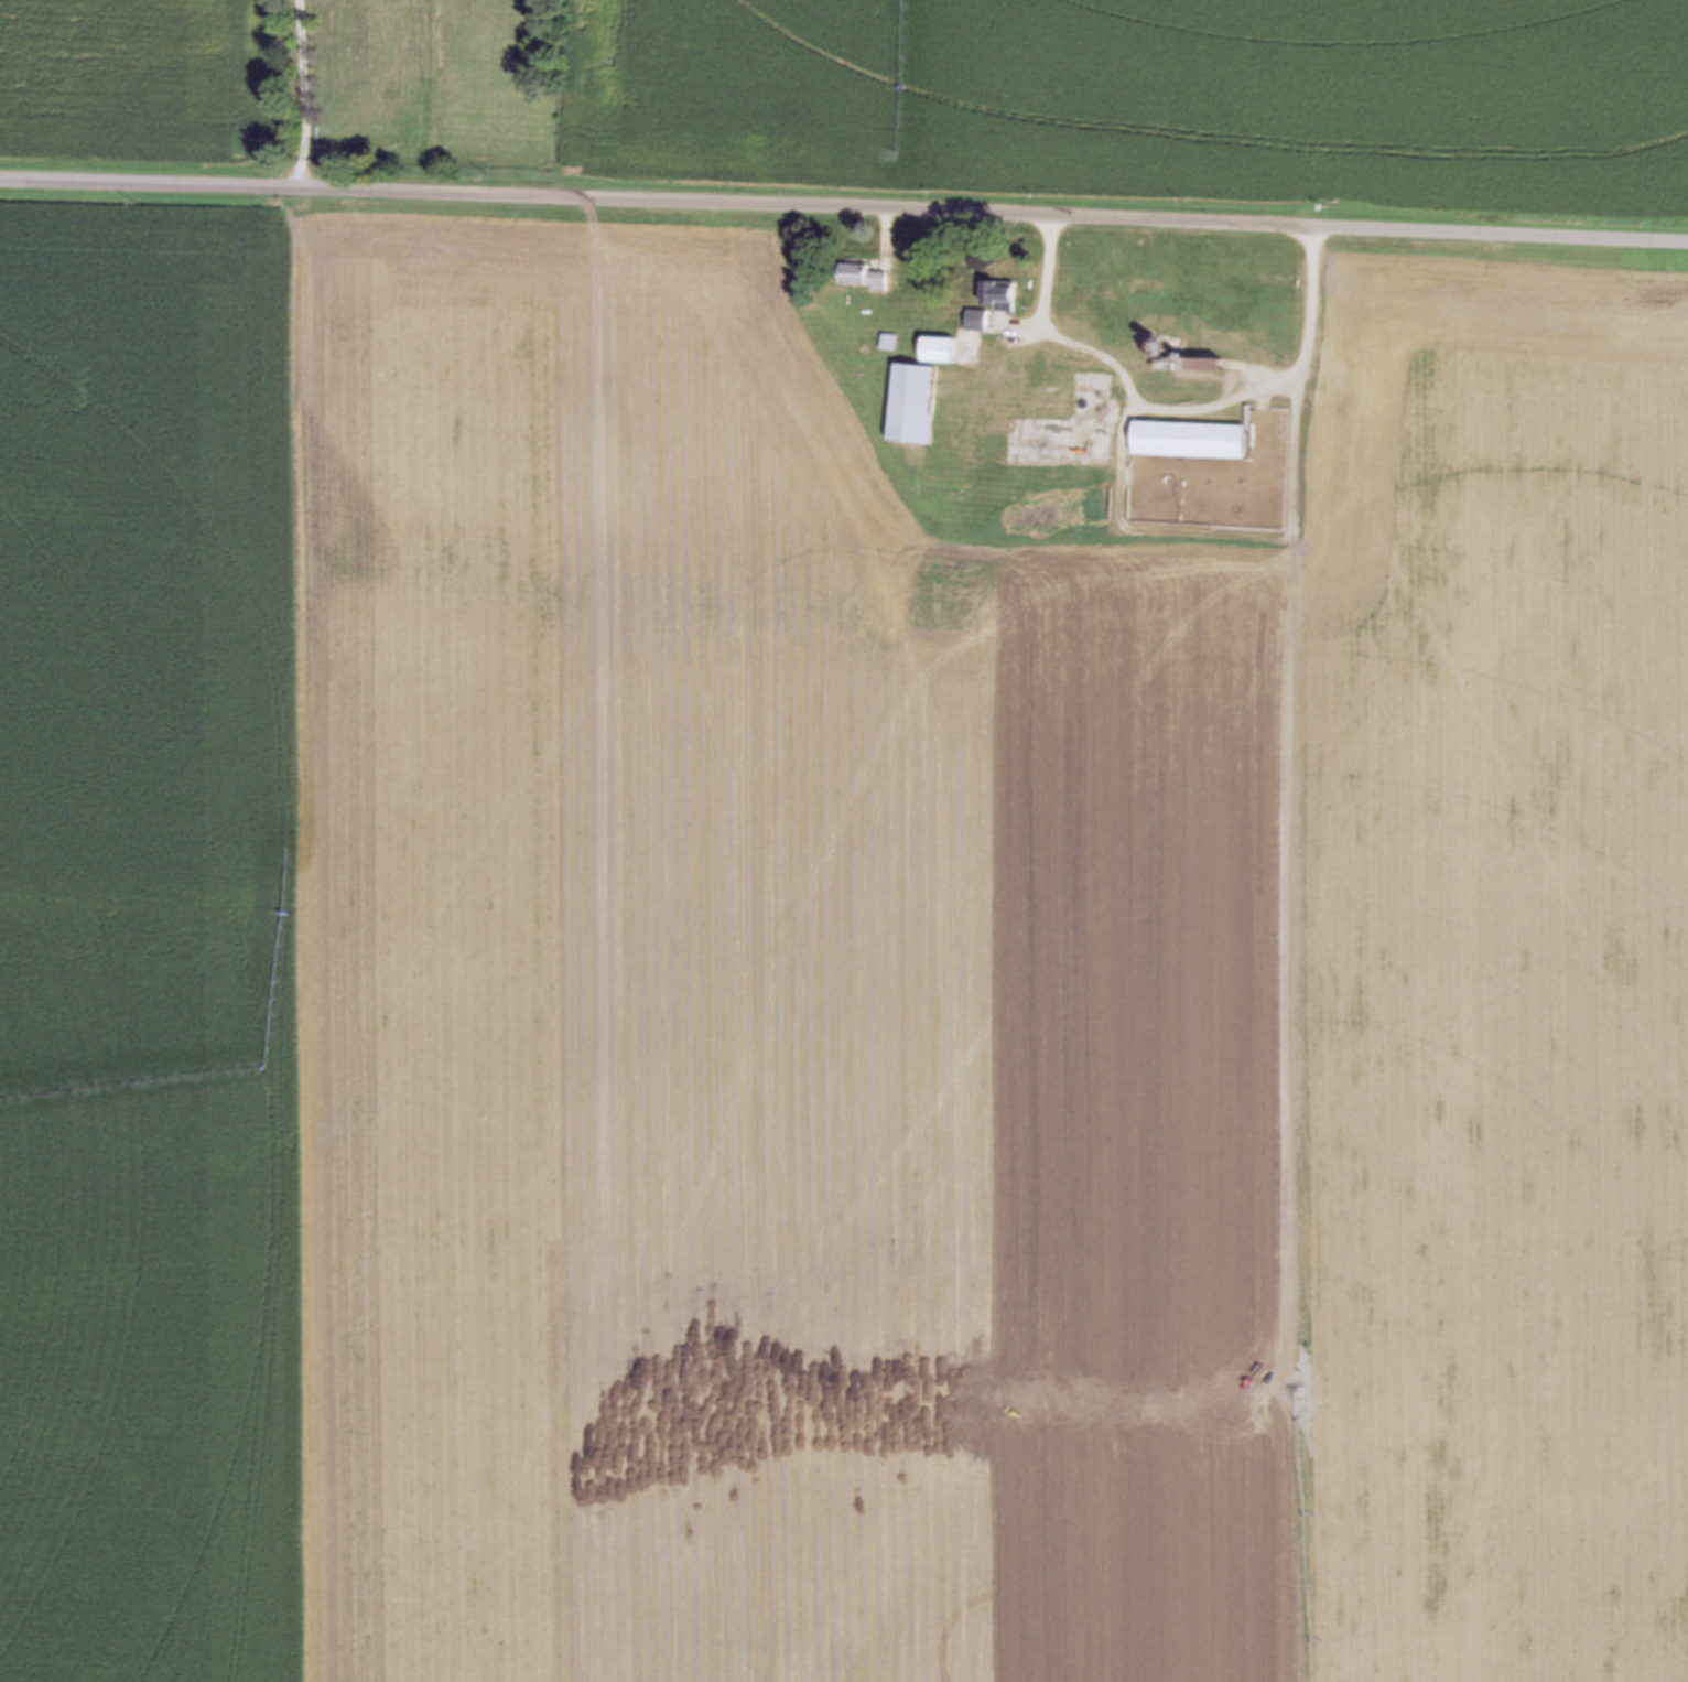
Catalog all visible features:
road: (844, 206)
building: (861, 274)
building: (997, 292)
building: (975, 319)
building: (937, 347)
building: (1184, 364)
building: (1337, 368)
building: (1154, 384)
building: (910, 401)
building: (1188, 438)

